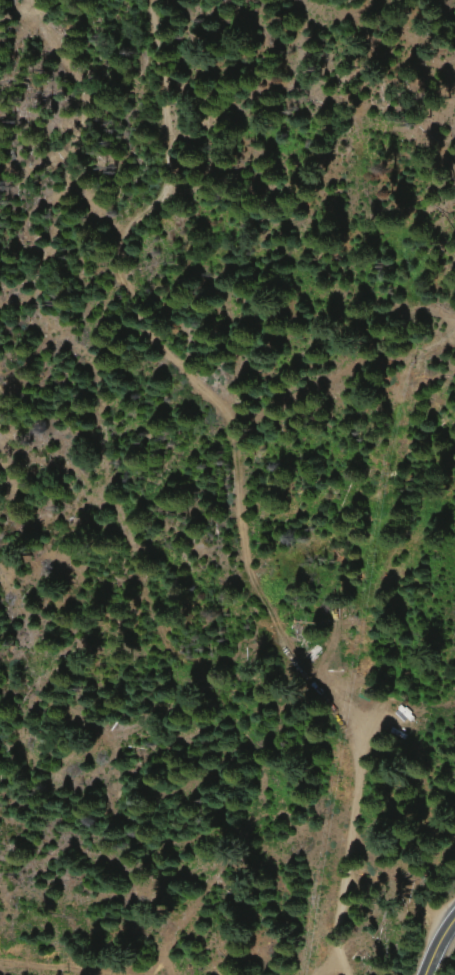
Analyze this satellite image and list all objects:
road: (433, 937)

